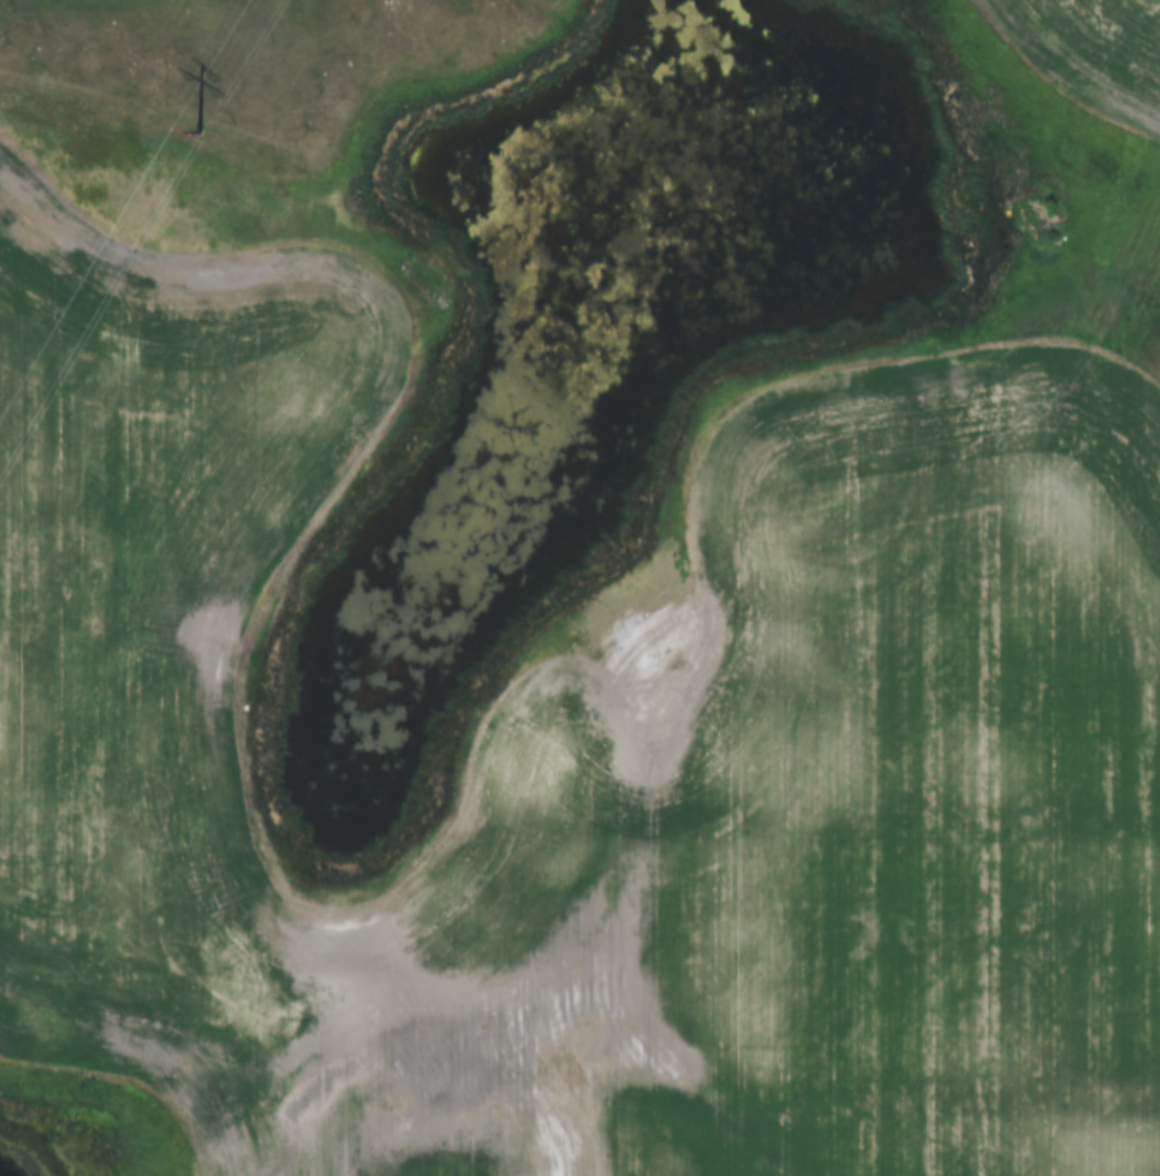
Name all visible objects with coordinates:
power tower: (188, 112)

